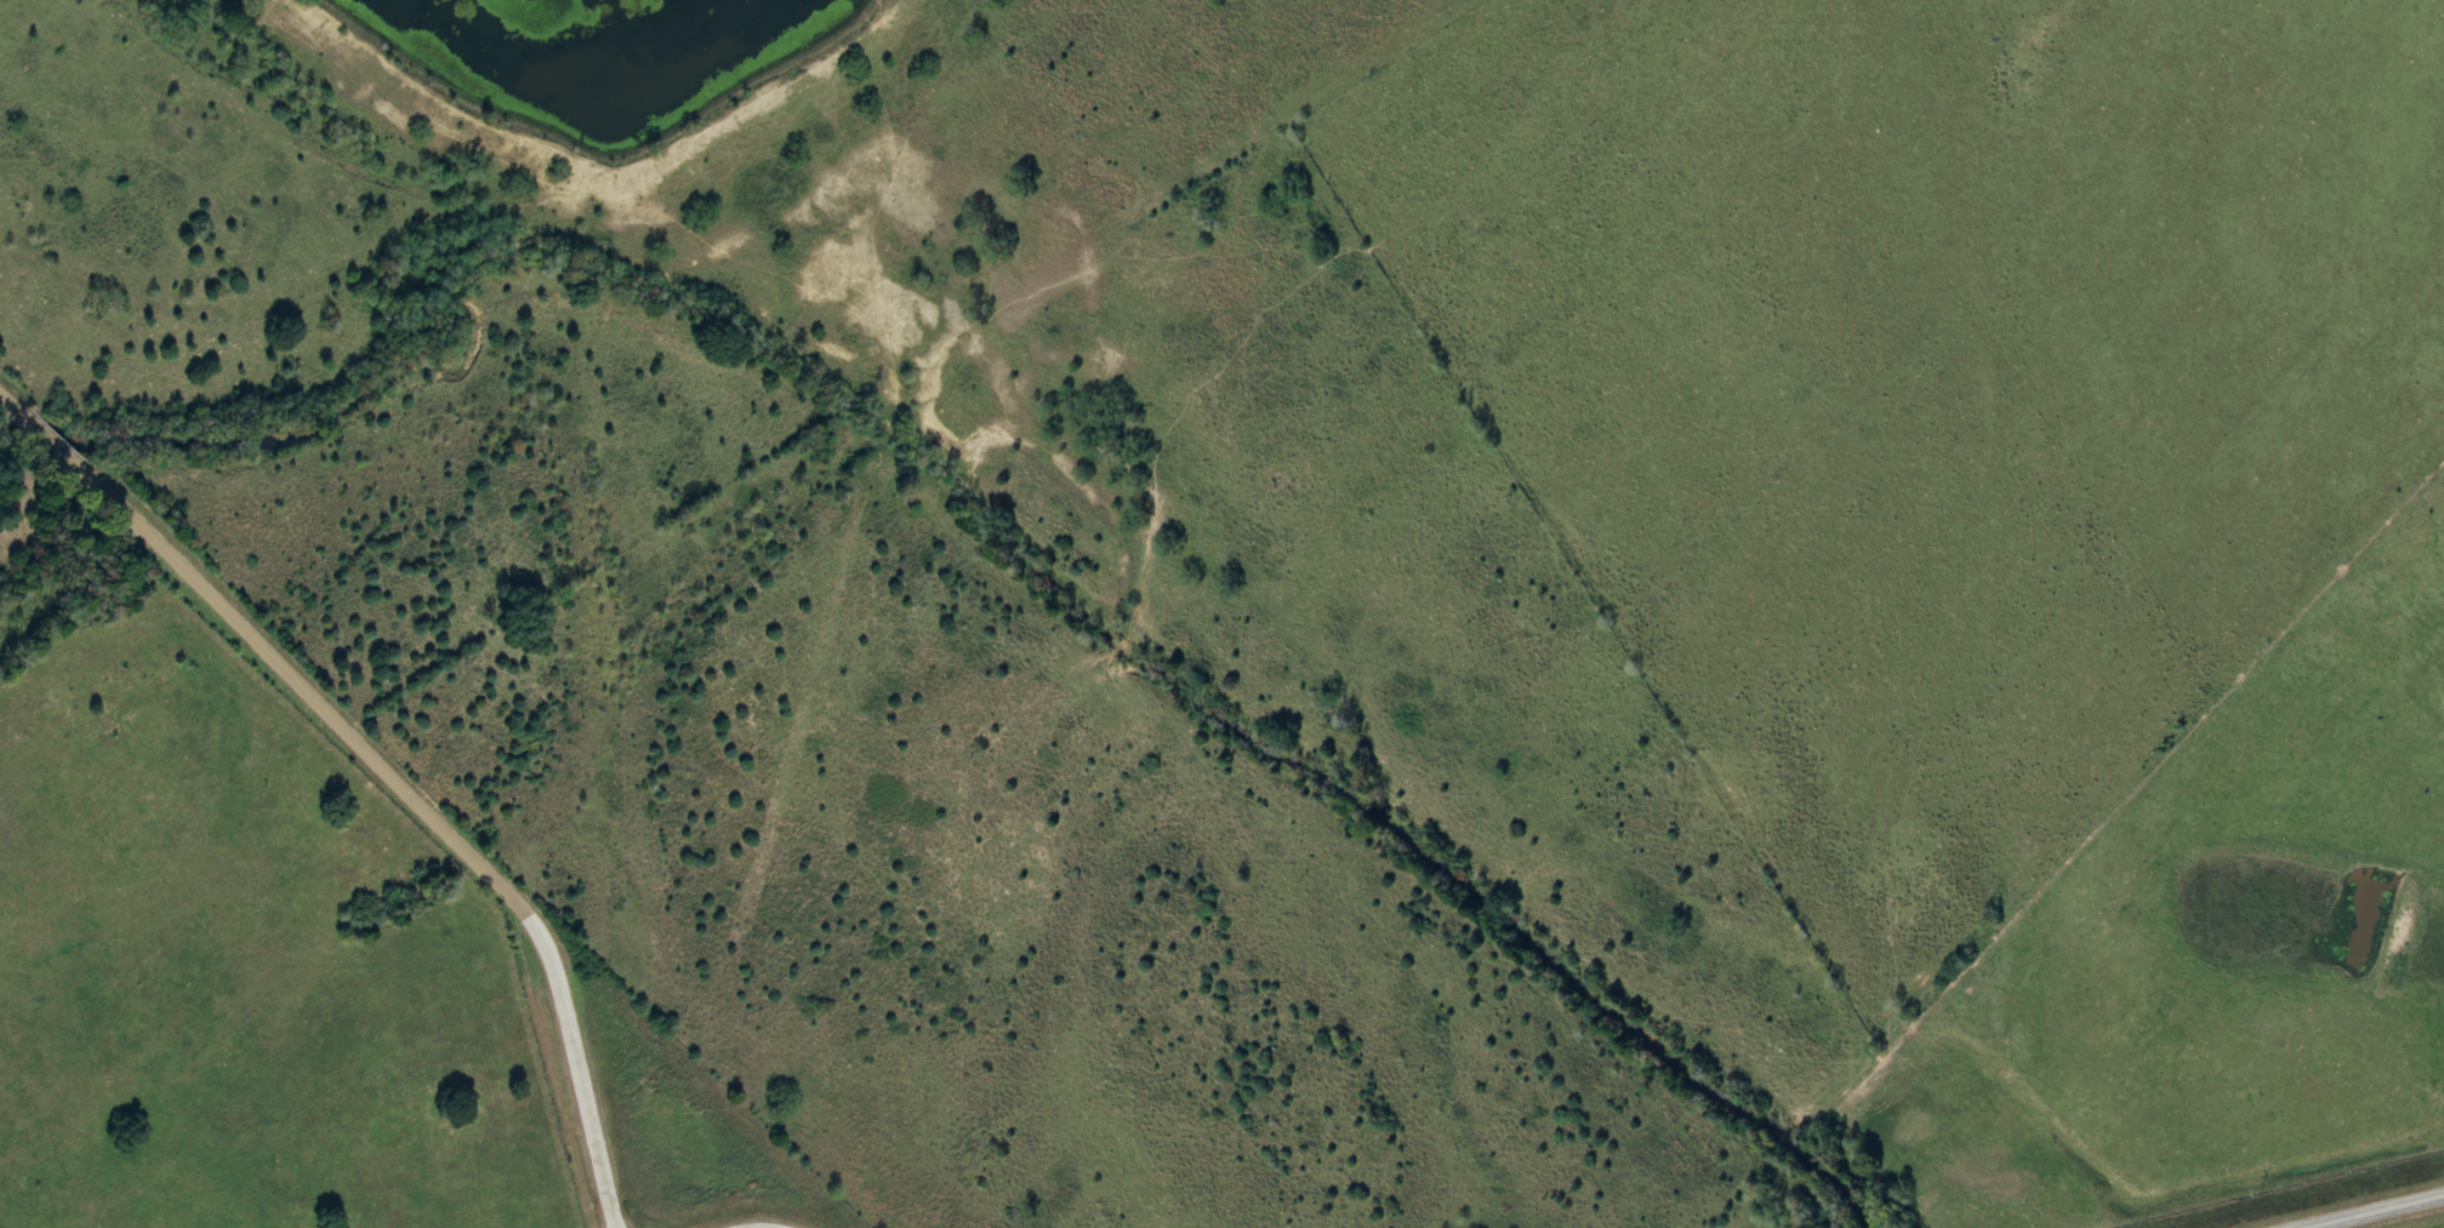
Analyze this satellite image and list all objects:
road: (380, 767)
road: (2371, 1211)

